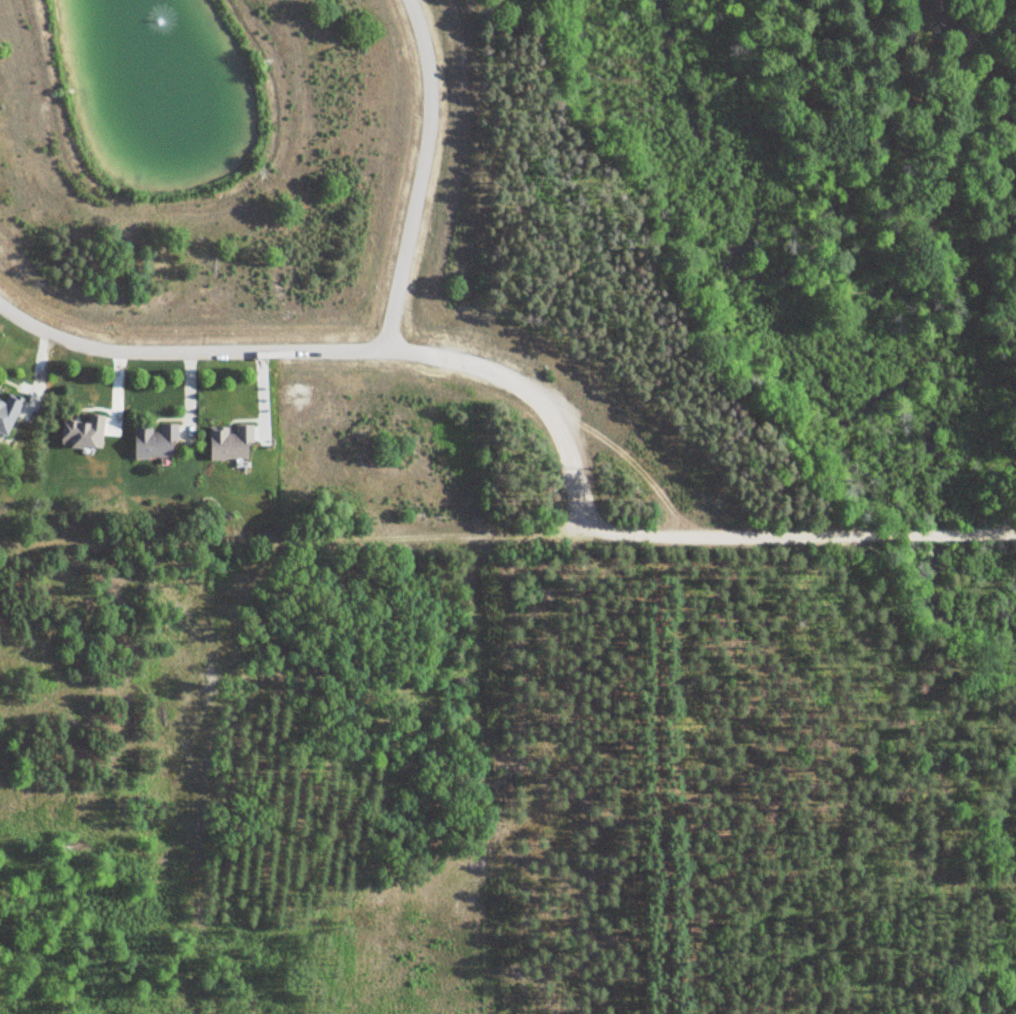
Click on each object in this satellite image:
road: (422, 176)
road: (332, 352)
building: (10, 412)
building: (86, 431)
building: (157, 441)
building: (233, 443)
road: (507, 539)

